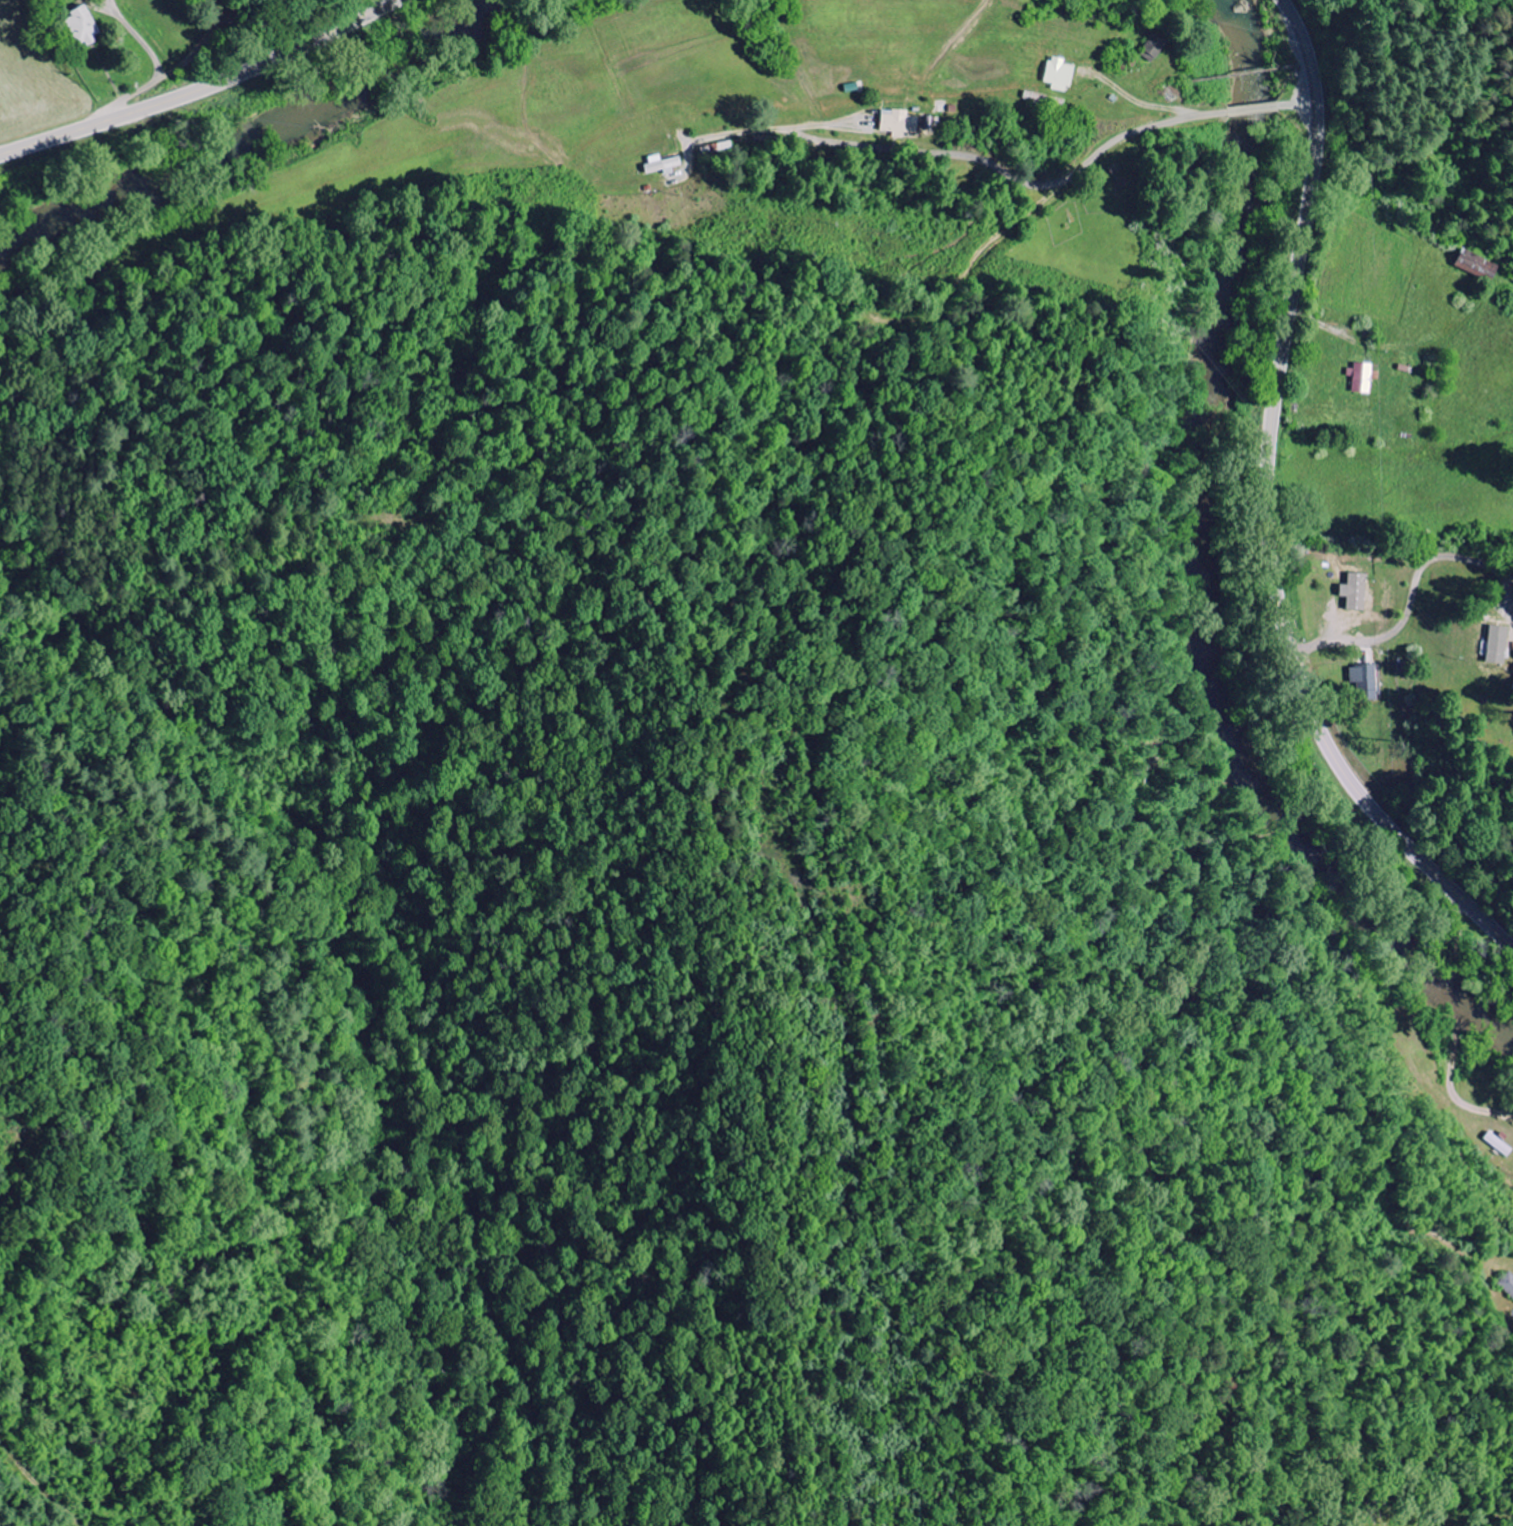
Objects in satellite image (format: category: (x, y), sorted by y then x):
building: (88, 26)
building: (1156, 48)
road: (193, 56)
road: (157, 75)
building: (1062, 75)
road: (203, 86)
building: (901, 123)
building: (665, 165)
building: (1481, 265)
building: (1364, 378)
road: (1268, 508)
building: (1360, 592)
road: (1411, 605)
building: (1500, 645)
building: (1368, 682)
building: (1508, 1284)

